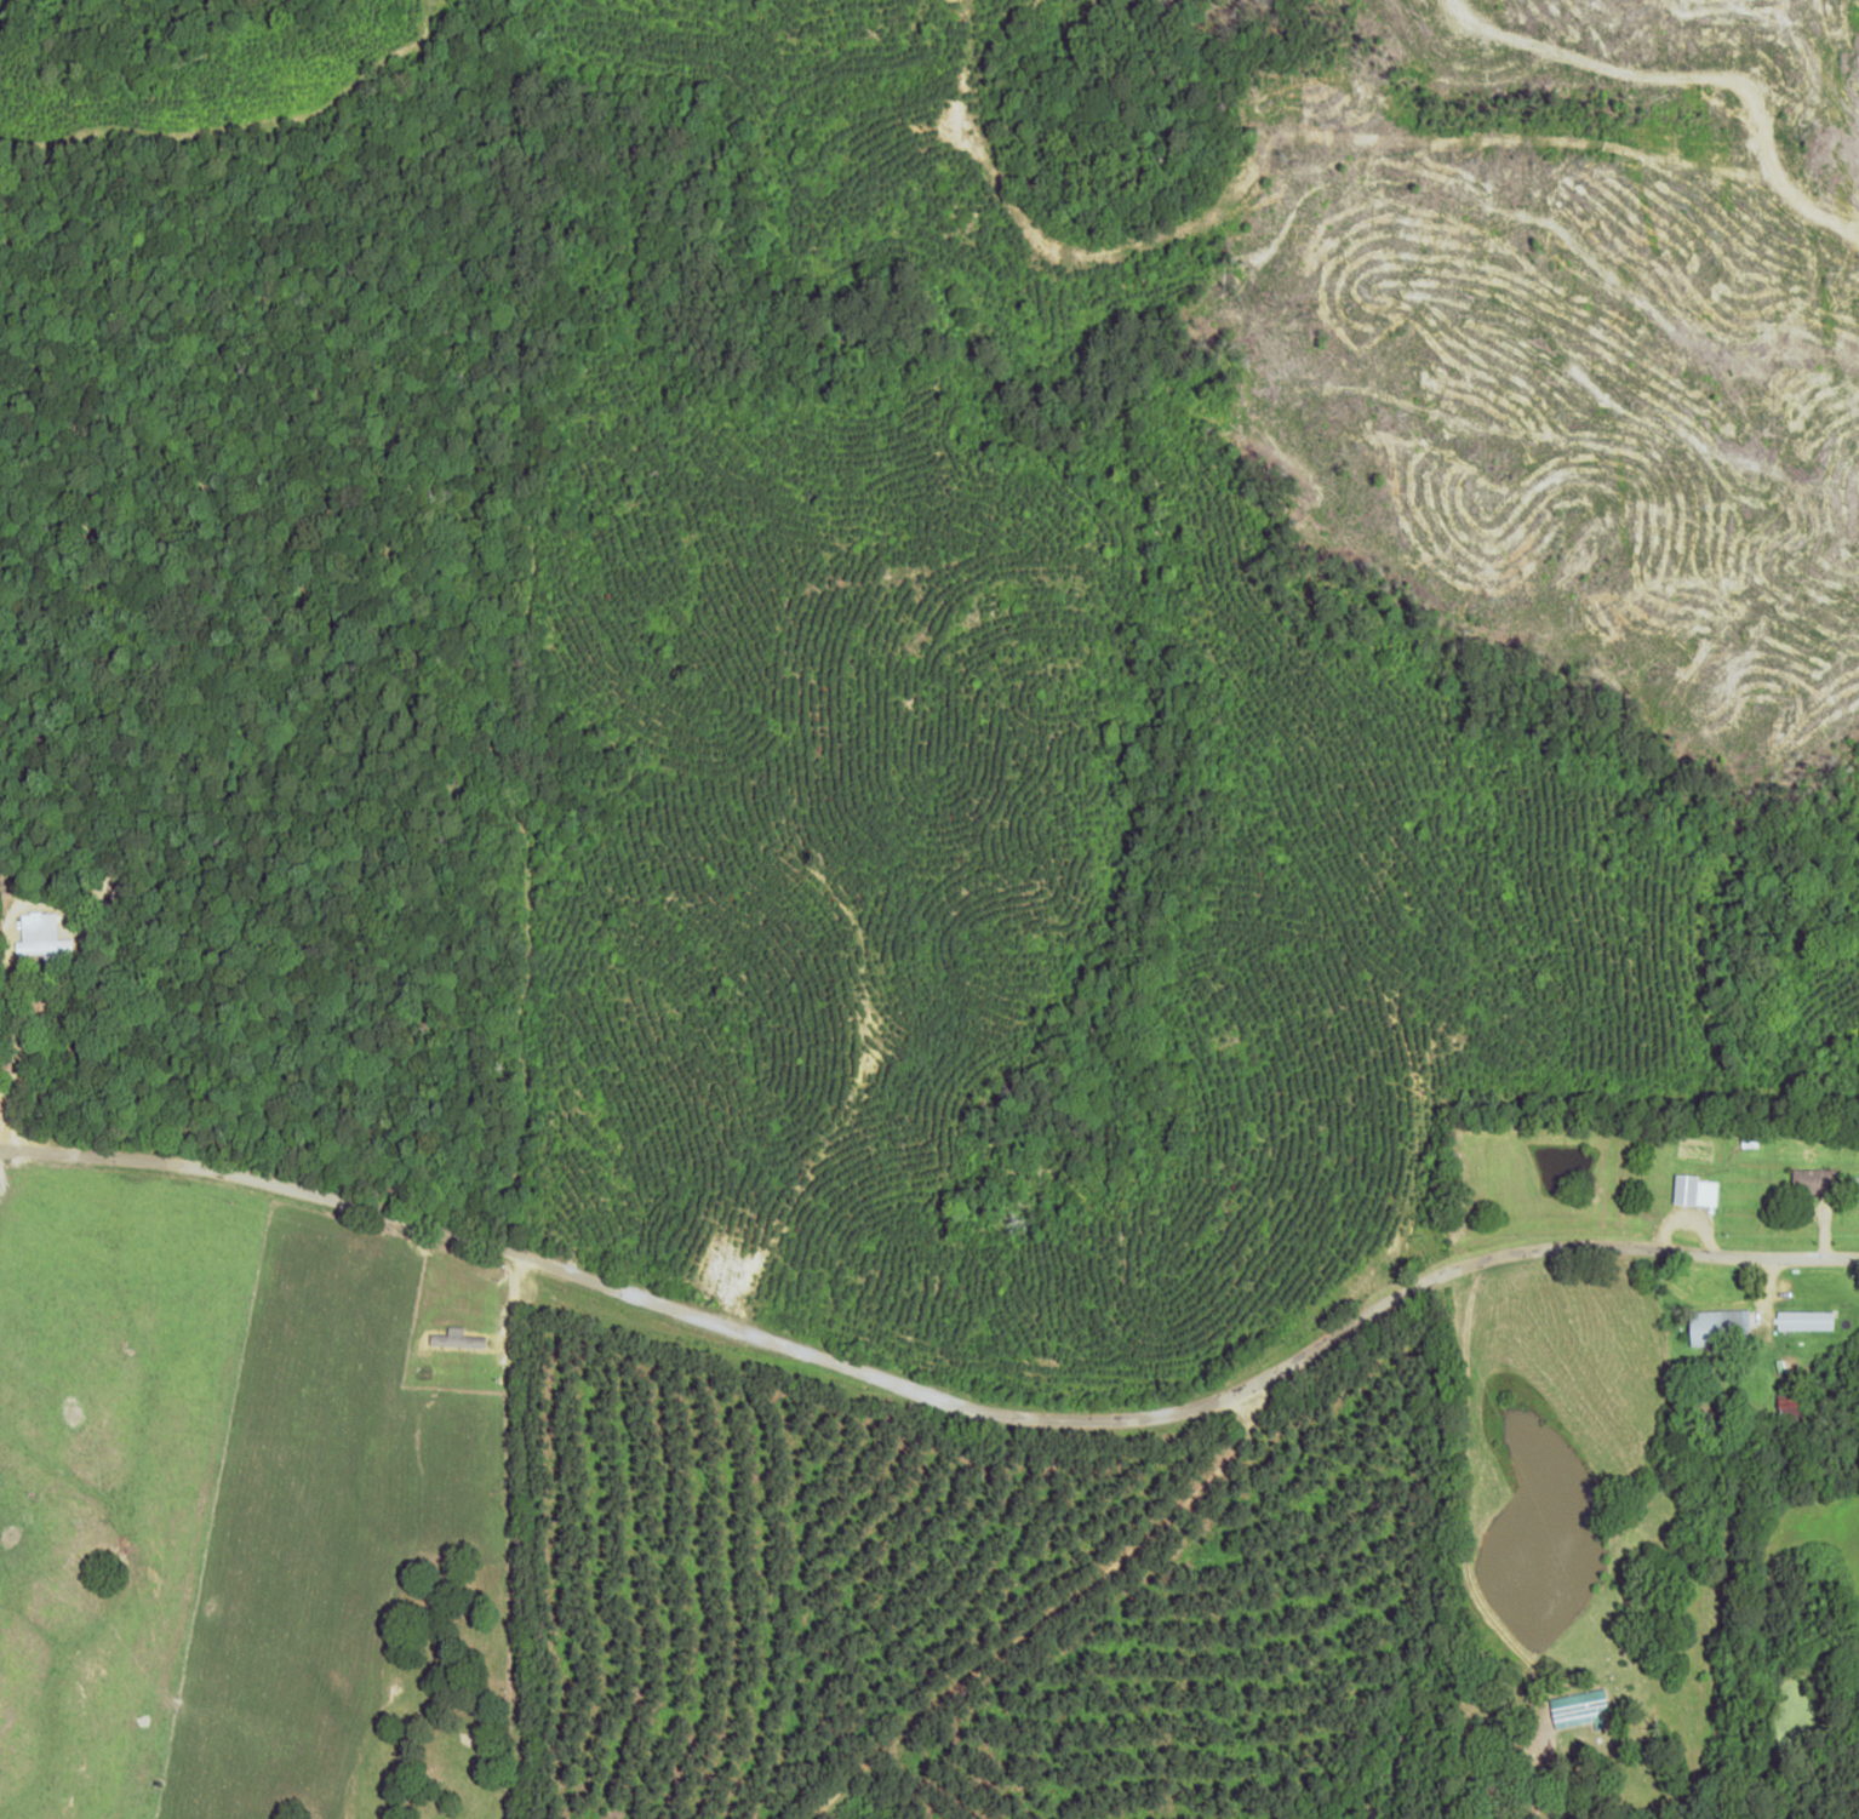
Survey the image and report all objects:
building: (41, 936)
building: (1811, 1180)
building: (1693, 1190)
building: (1803, 1320)
building: (1717, 1327)
road: (928, 1422)
building: (1579, 1709)

